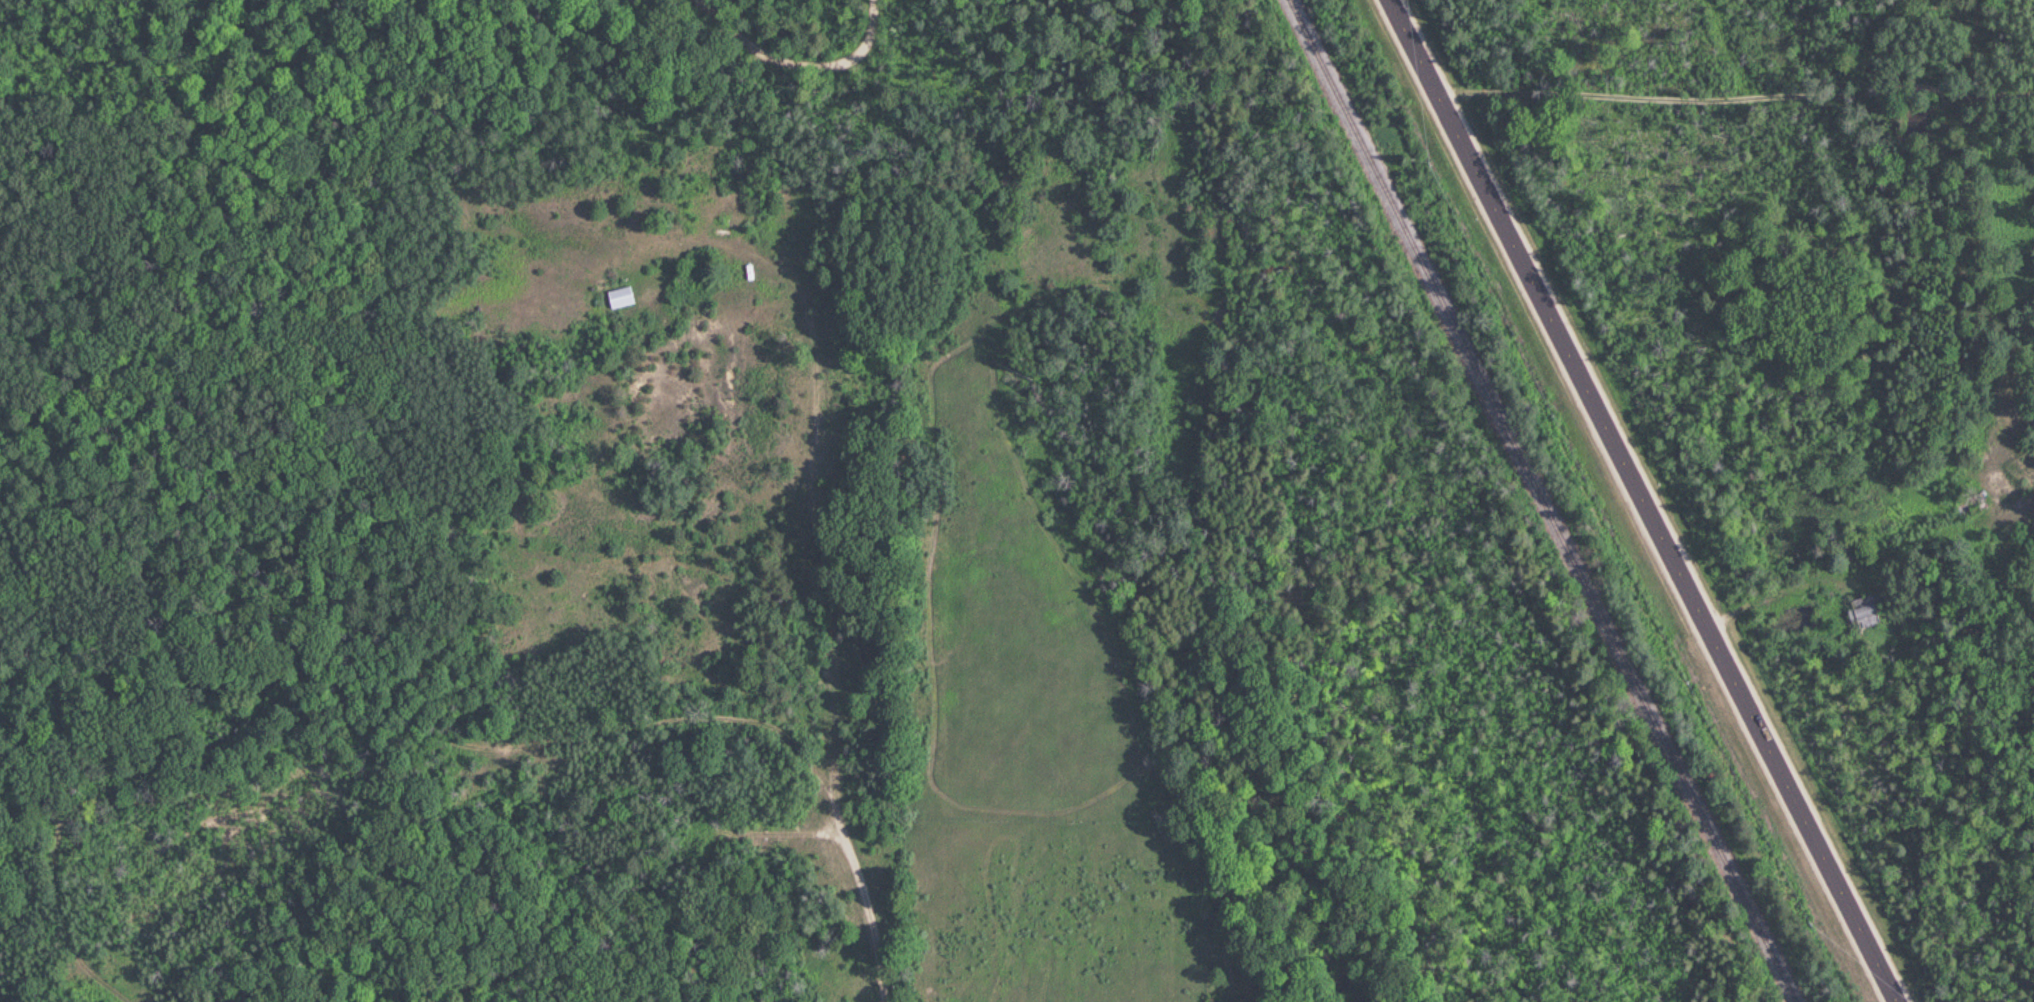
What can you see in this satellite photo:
road: (1980, 77)
building: (620, 296)
railway: (1537, 501)
road: (1643, 501)
building: (1864, 608)
road: (303, 765)
road: (849, 841)

